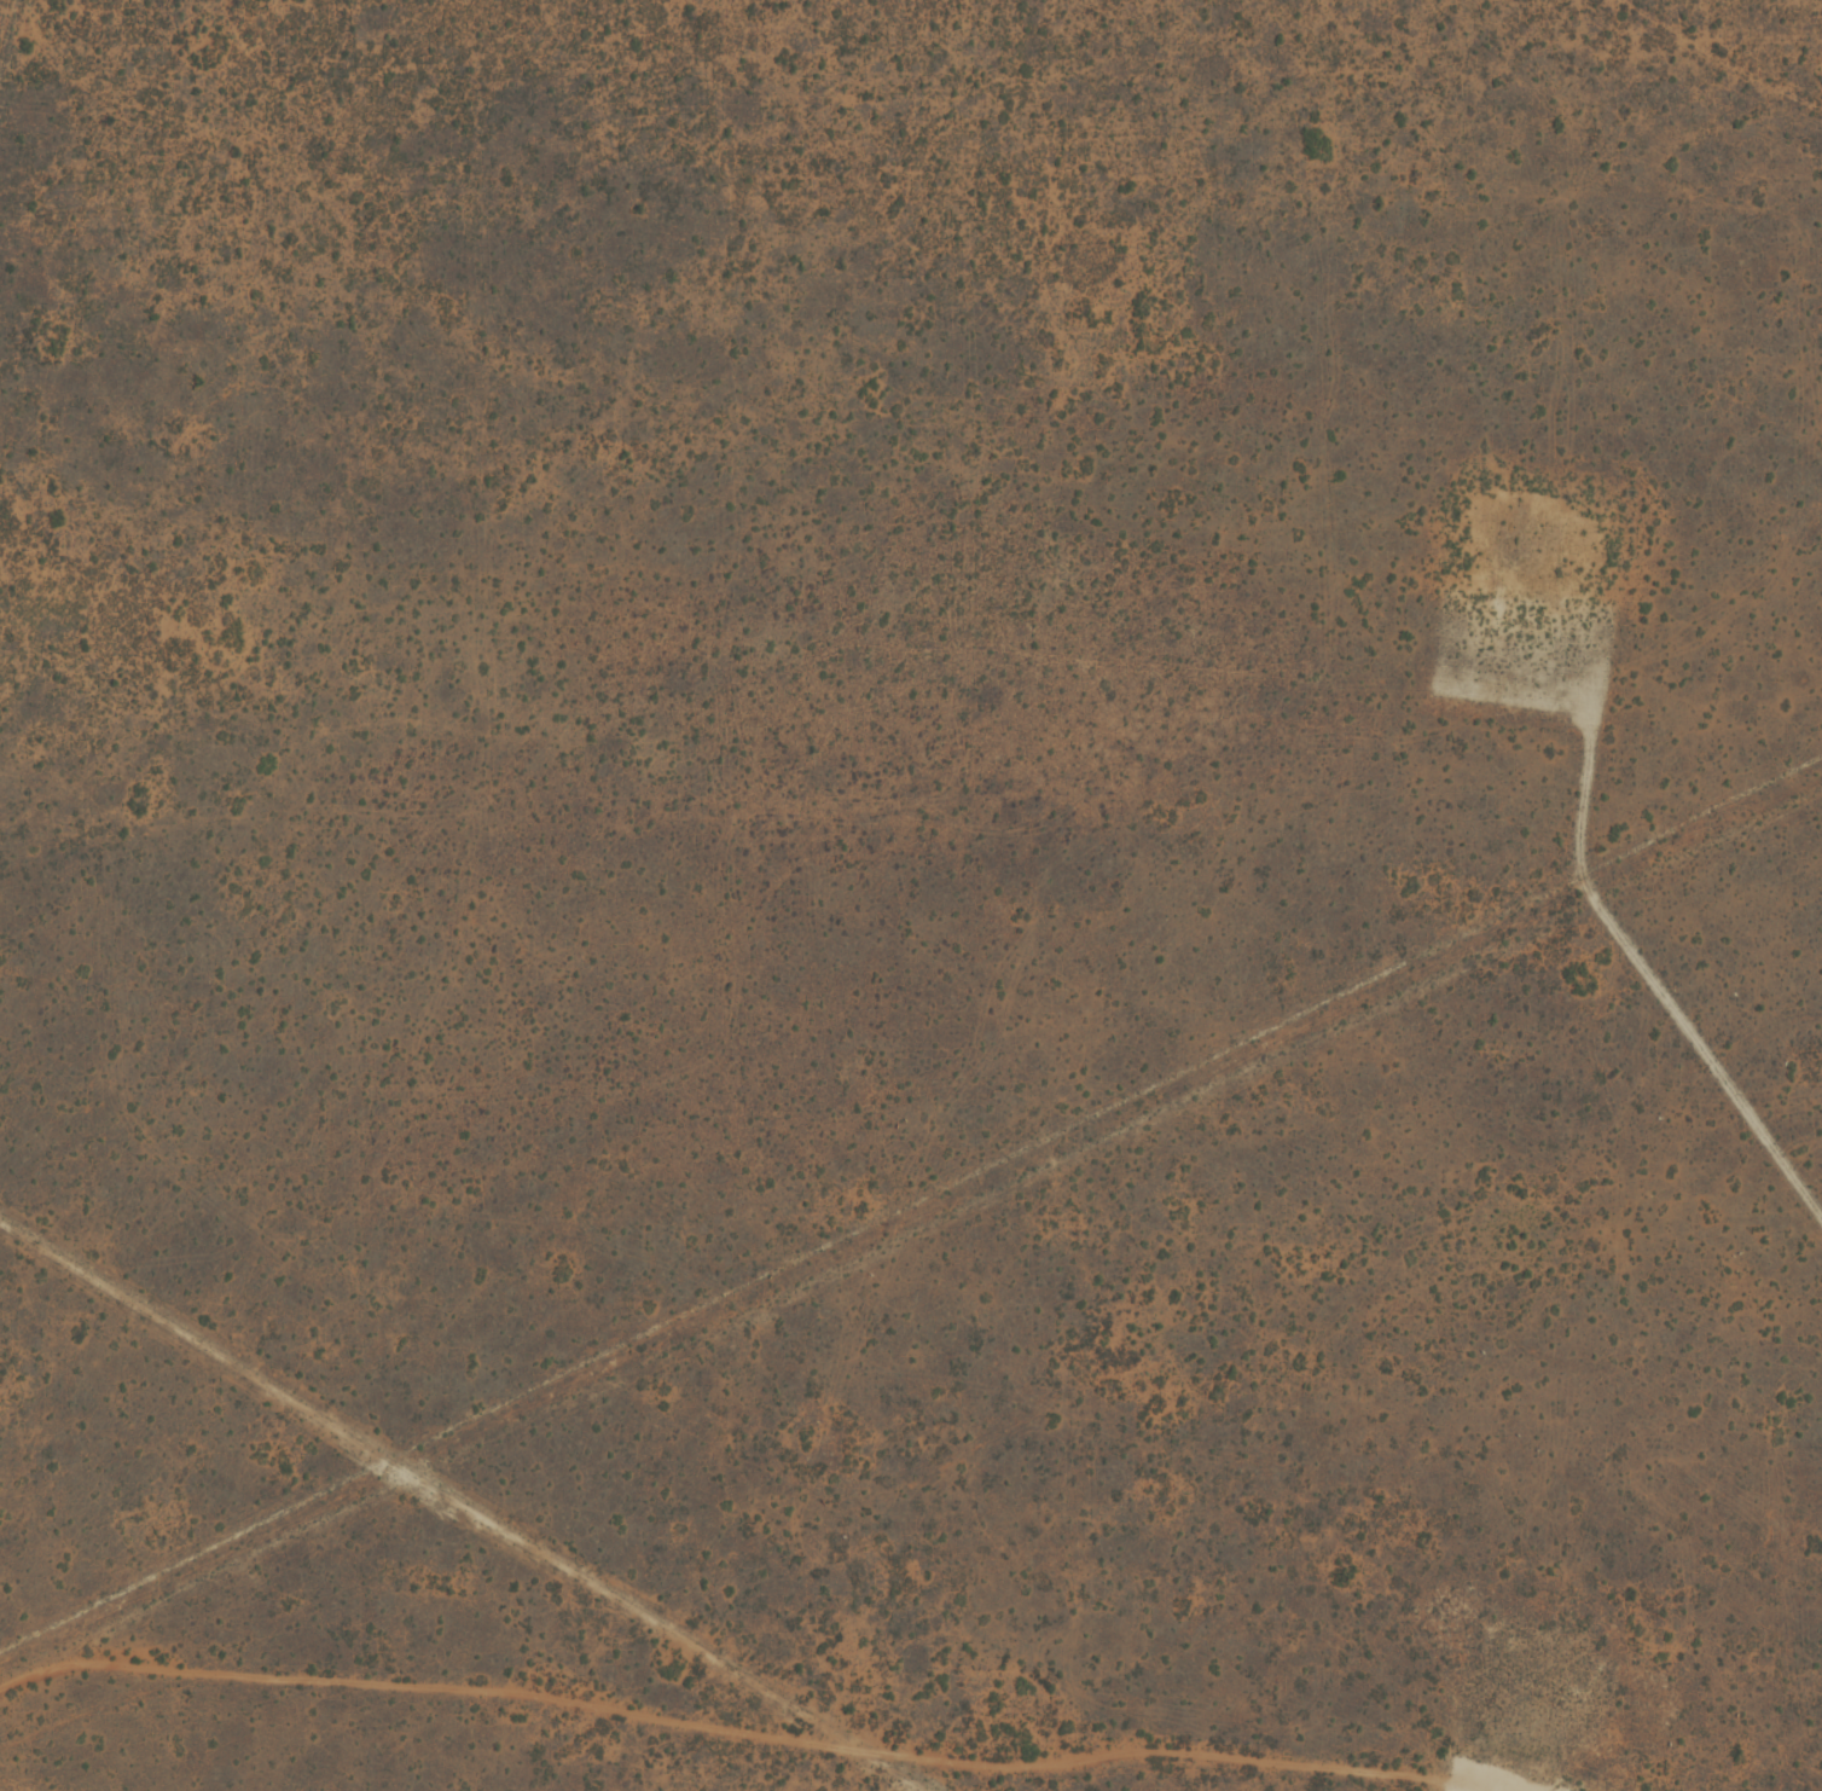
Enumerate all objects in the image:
road: (743, 1722)

